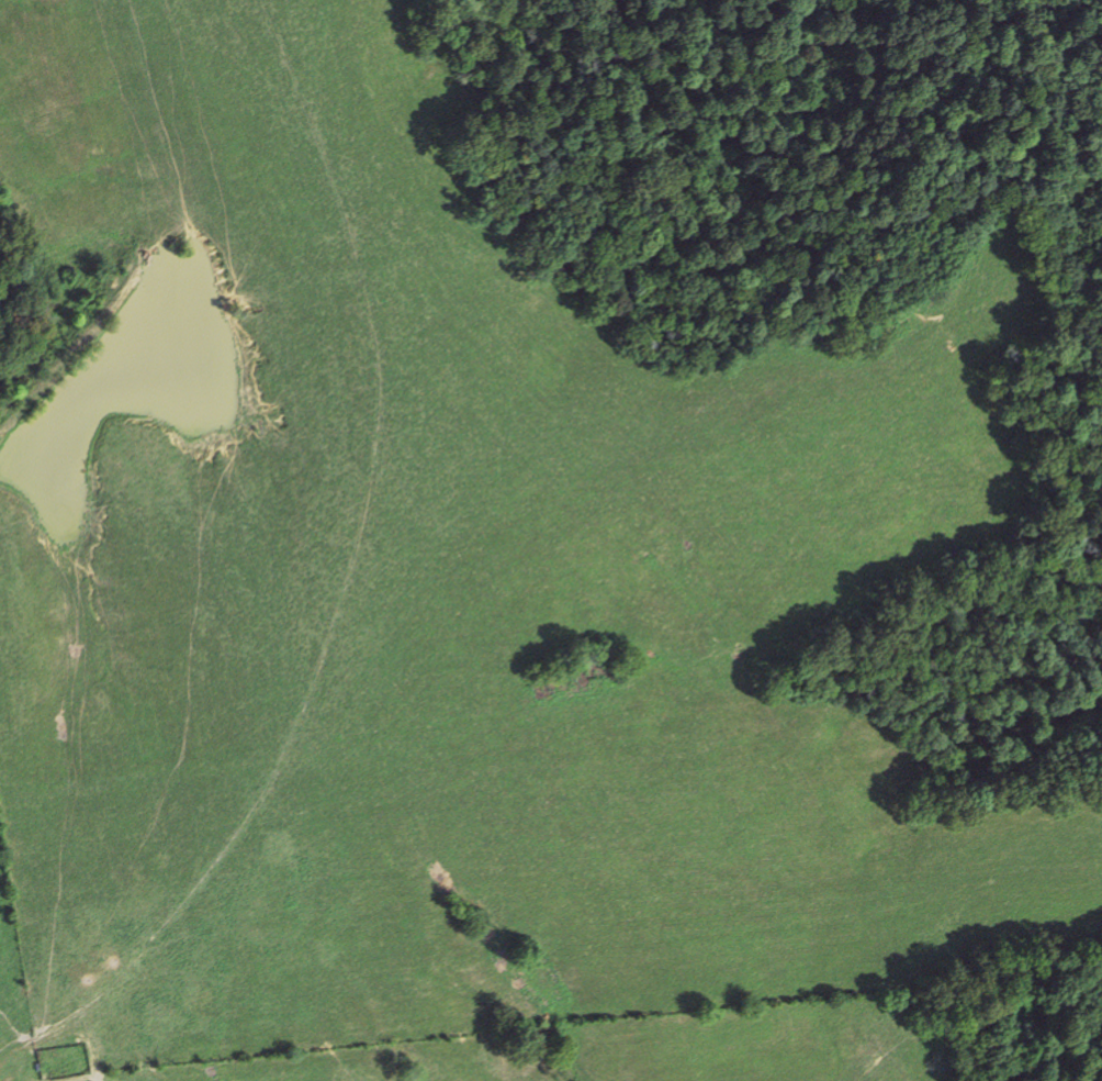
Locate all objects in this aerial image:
road: (1026, 1002)

